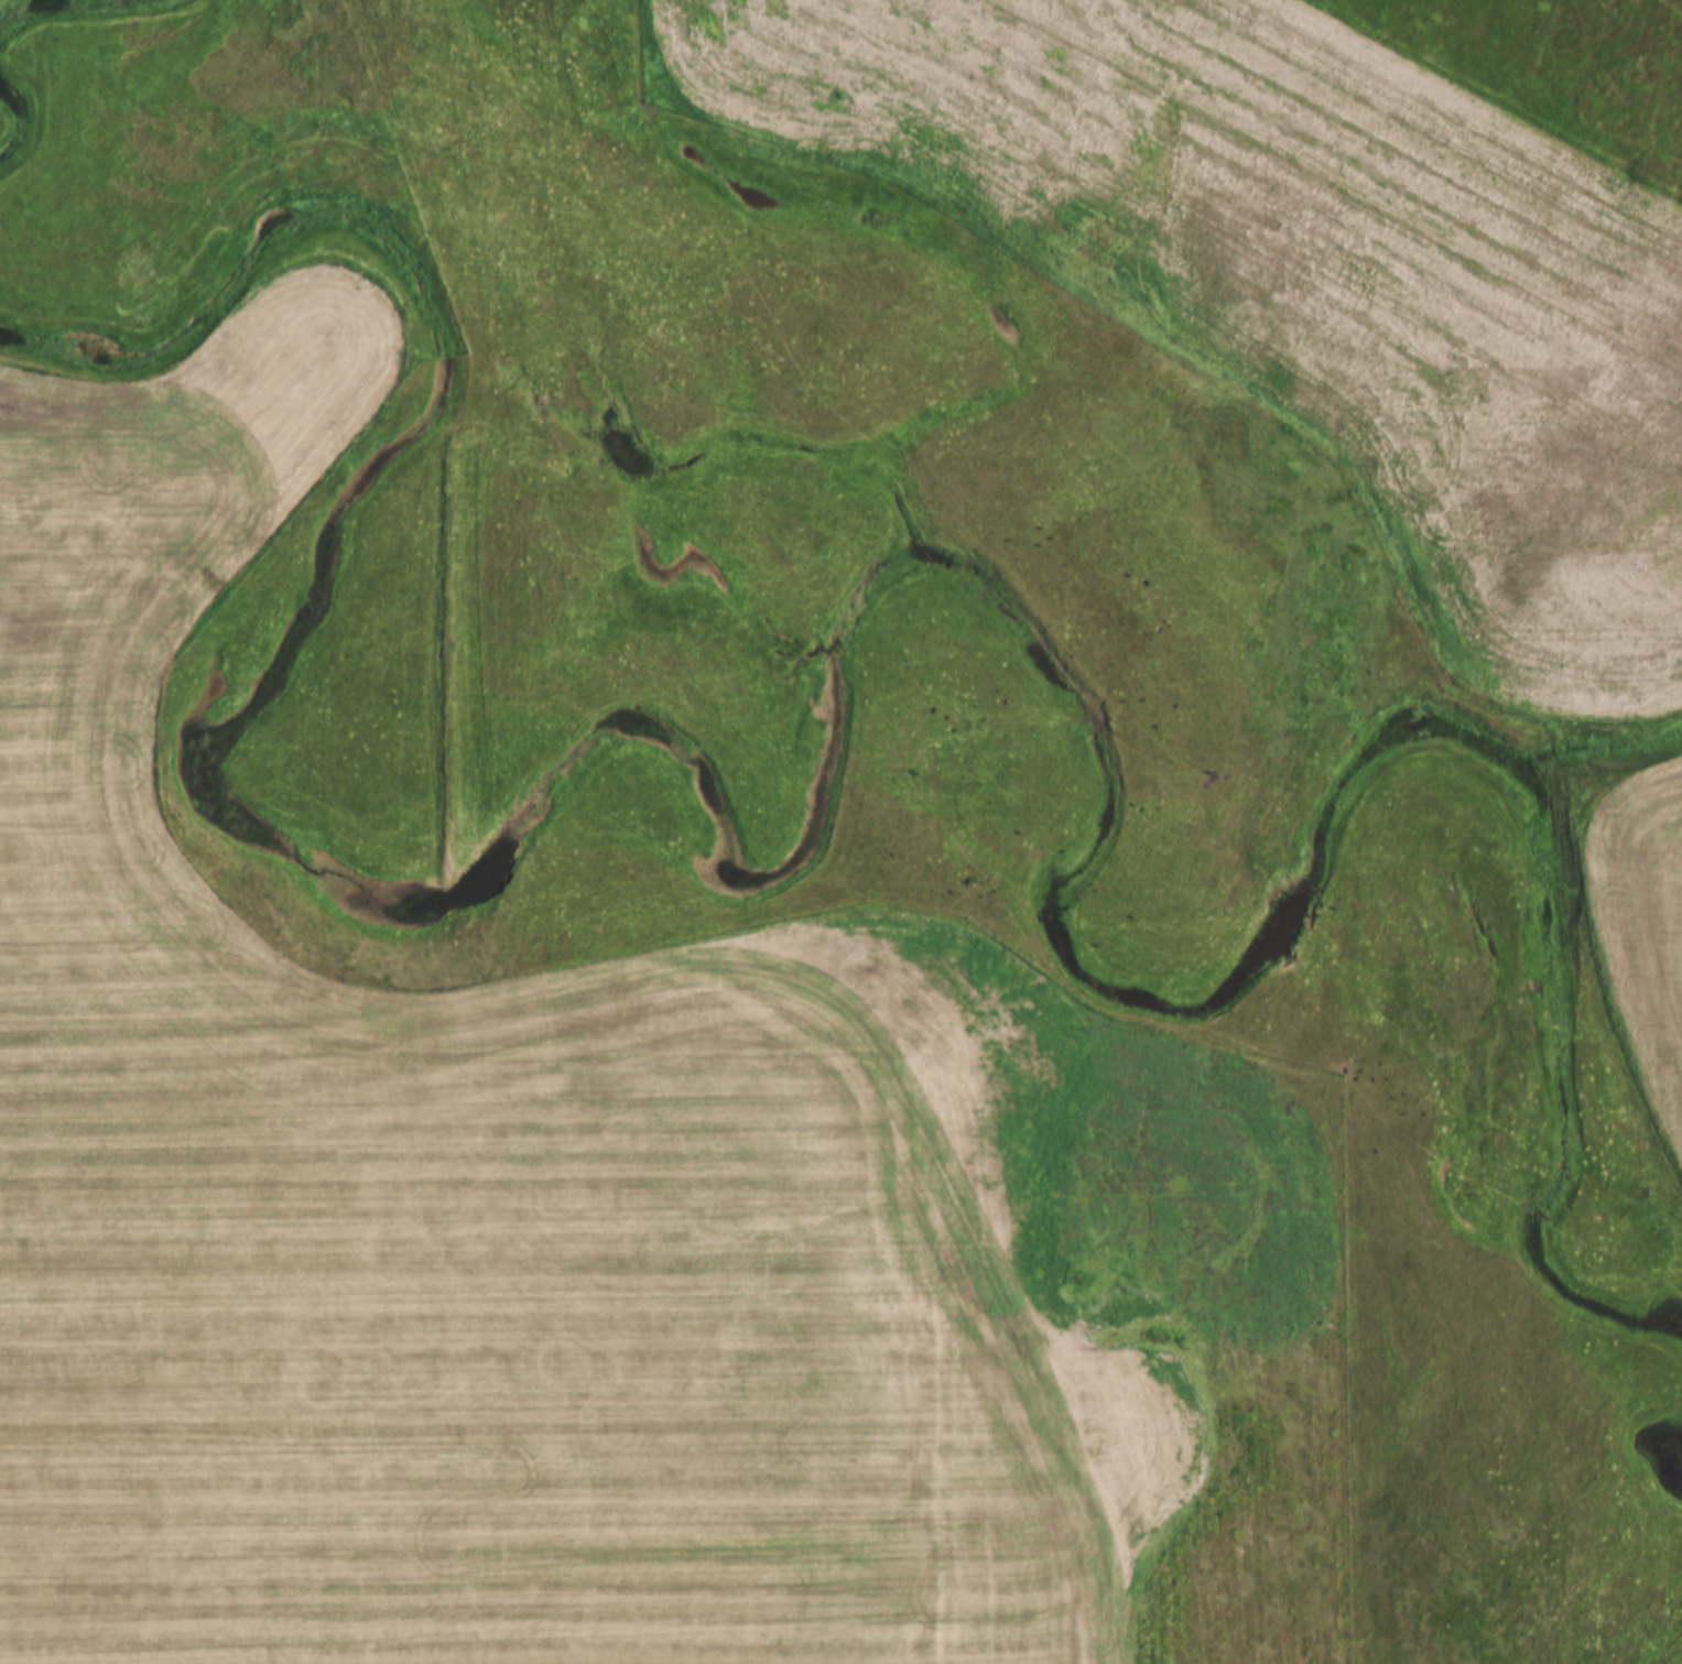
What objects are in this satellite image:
road: (1674, 4)

